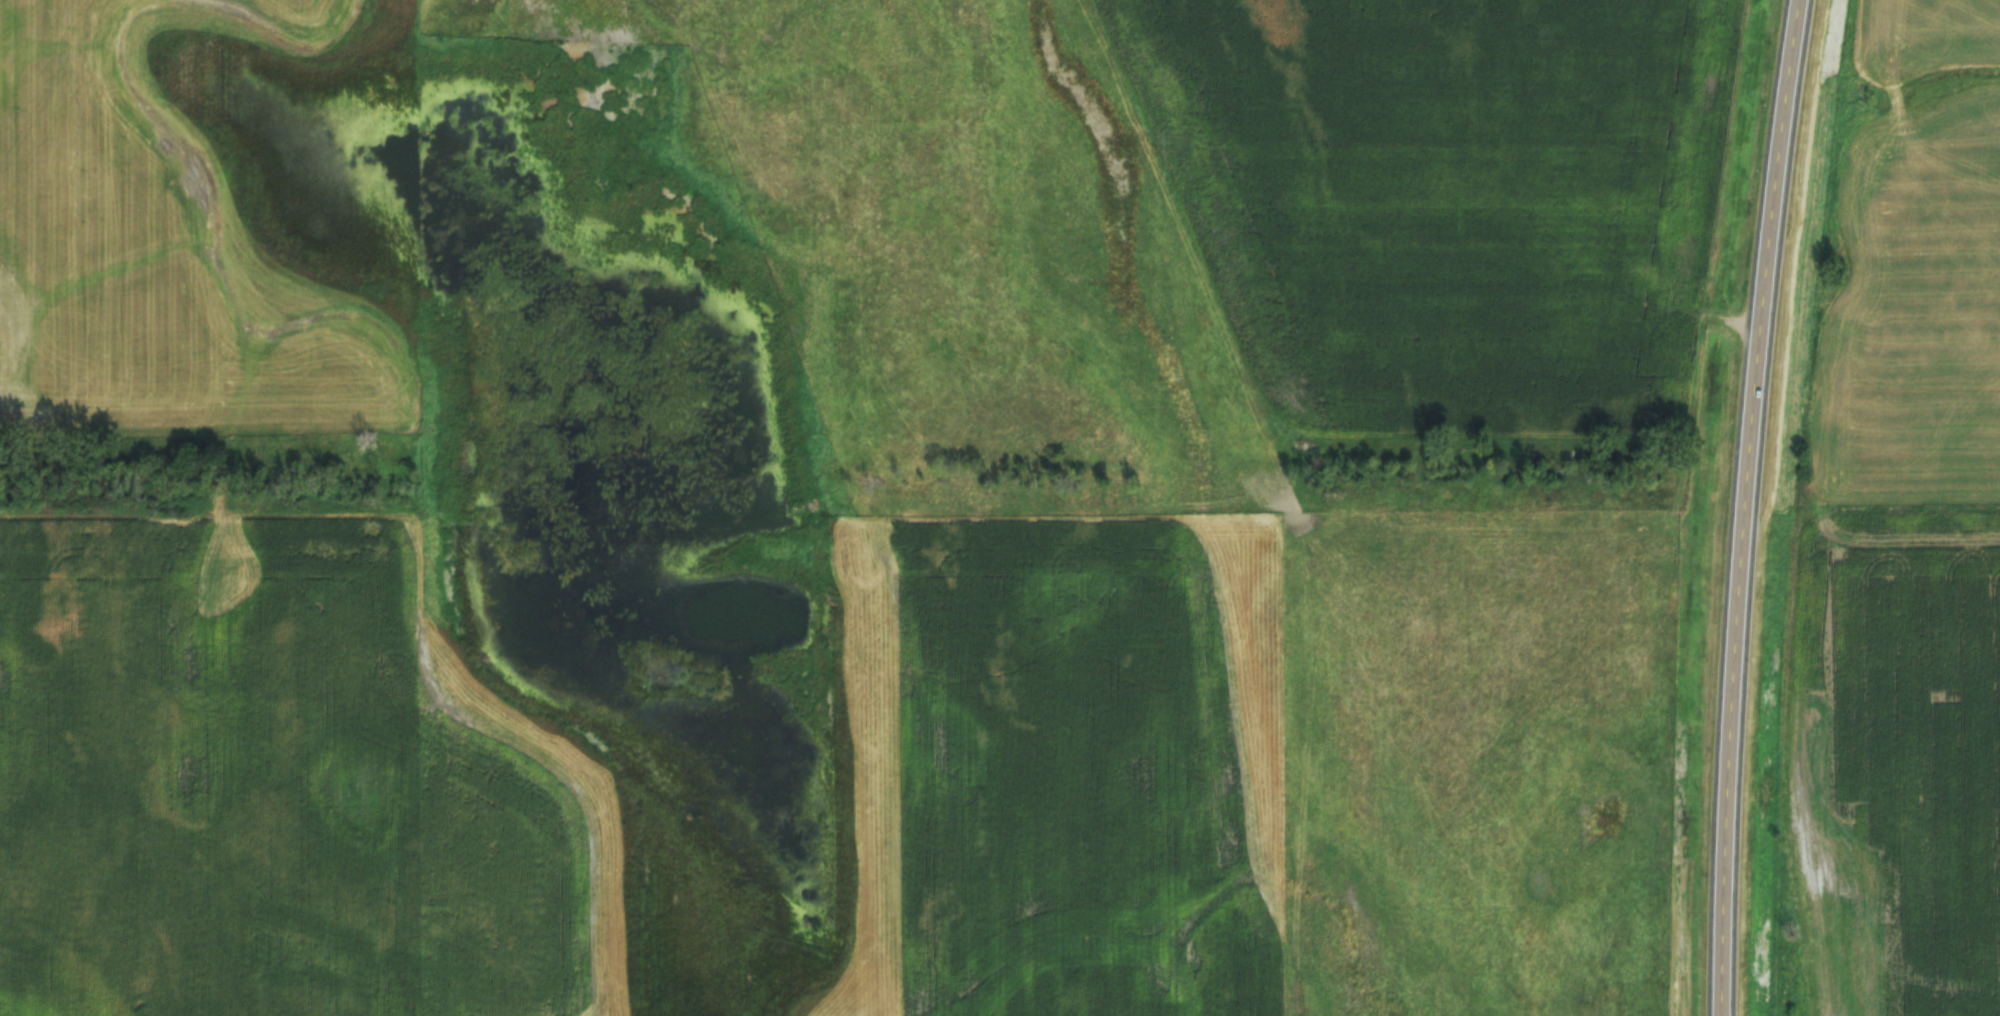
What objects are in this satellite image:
road: (1752, 507)

